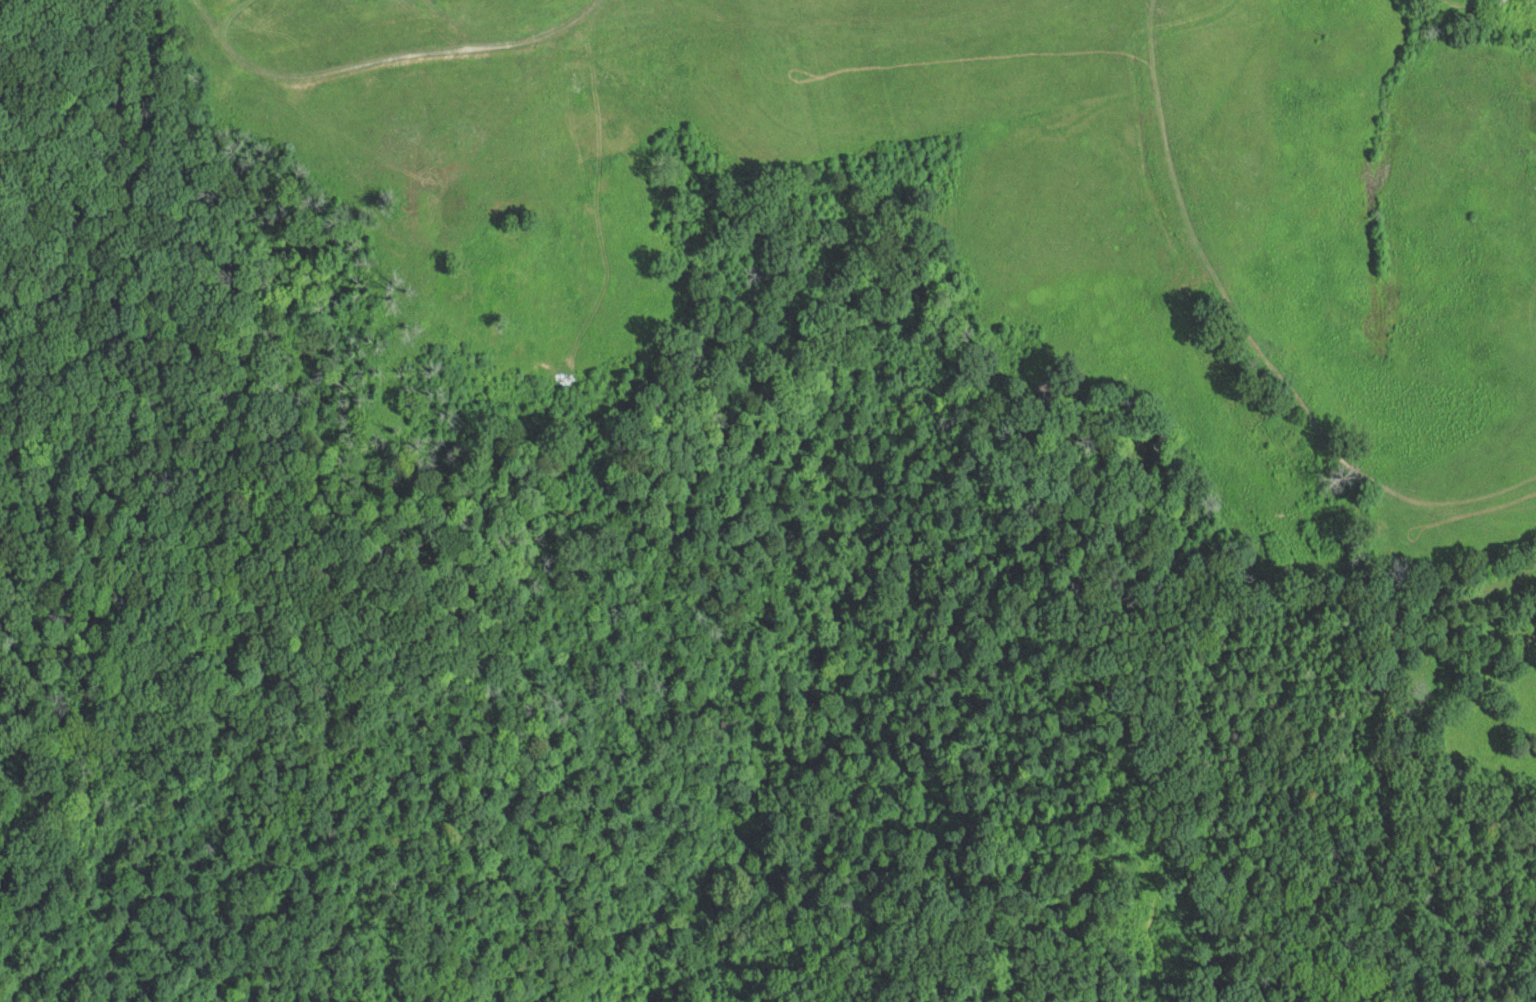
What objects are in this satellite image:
road: (1385, 19)
road: (1476, 550)

